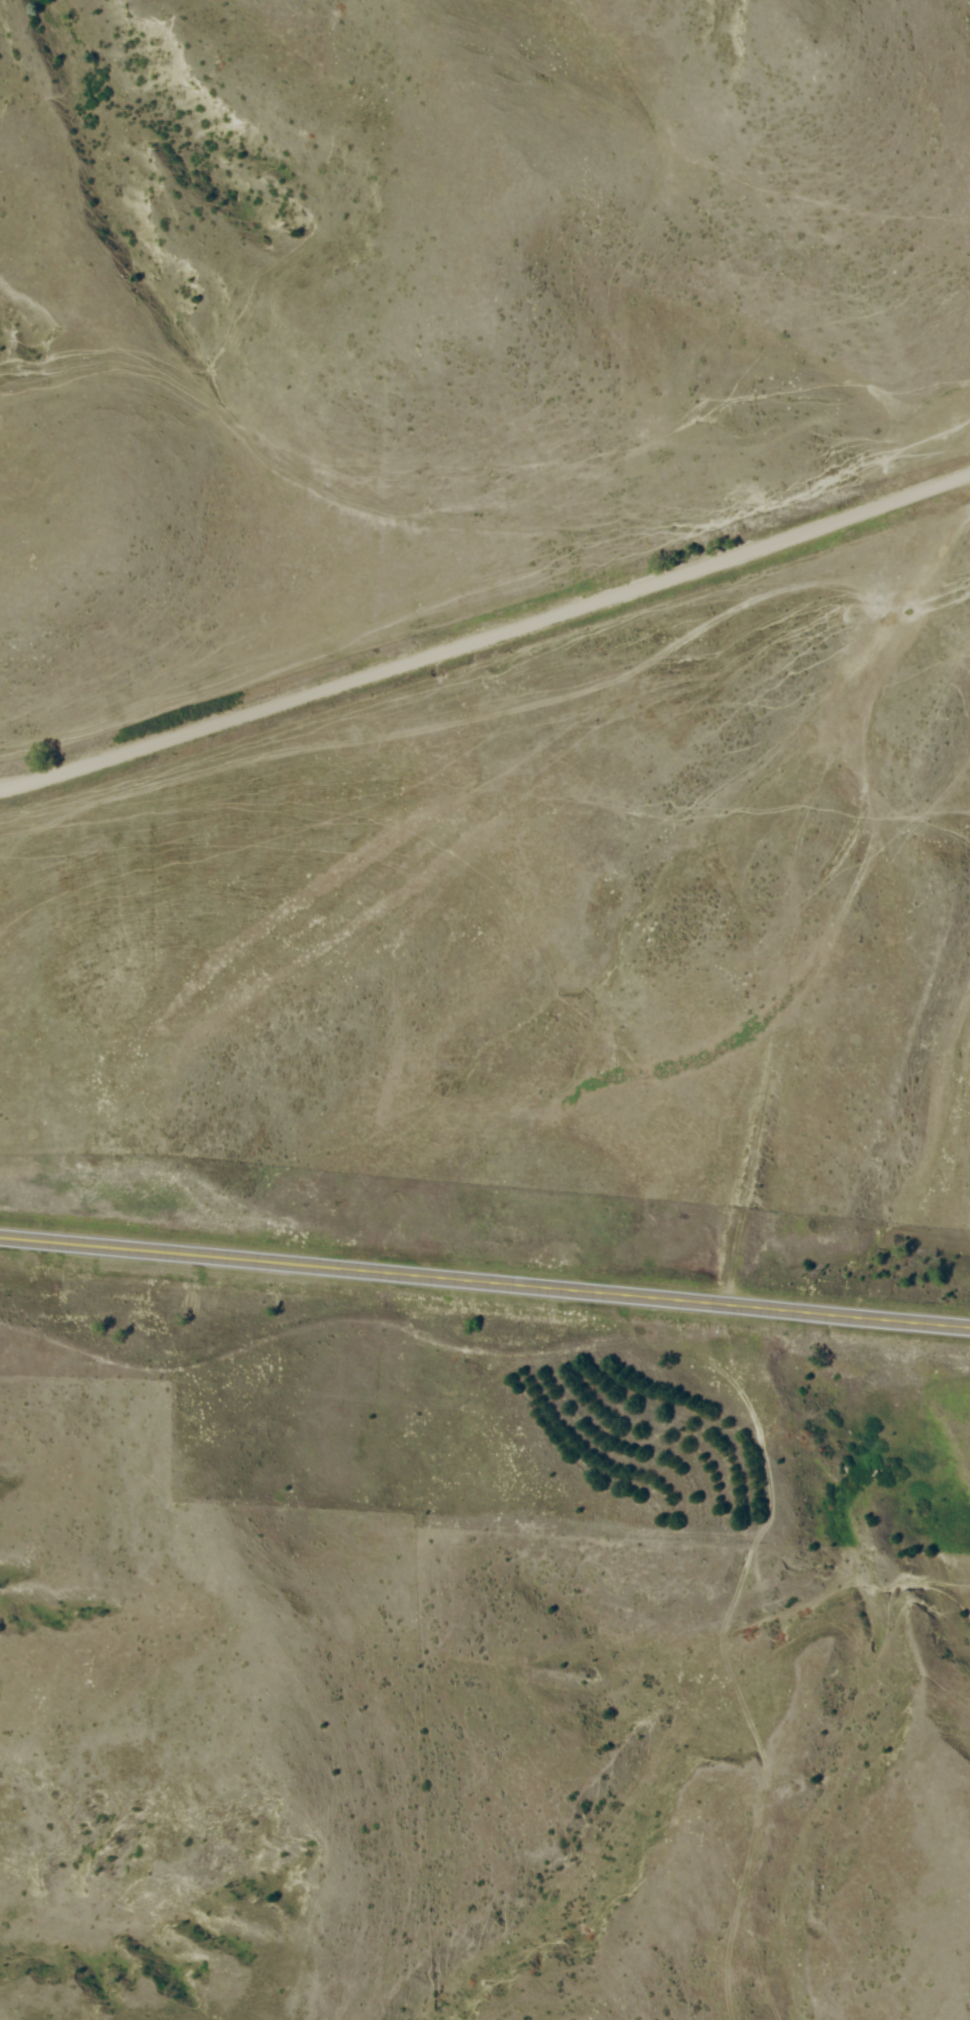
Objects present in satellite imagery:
road: (485, 636)
road: (485, 1286)

